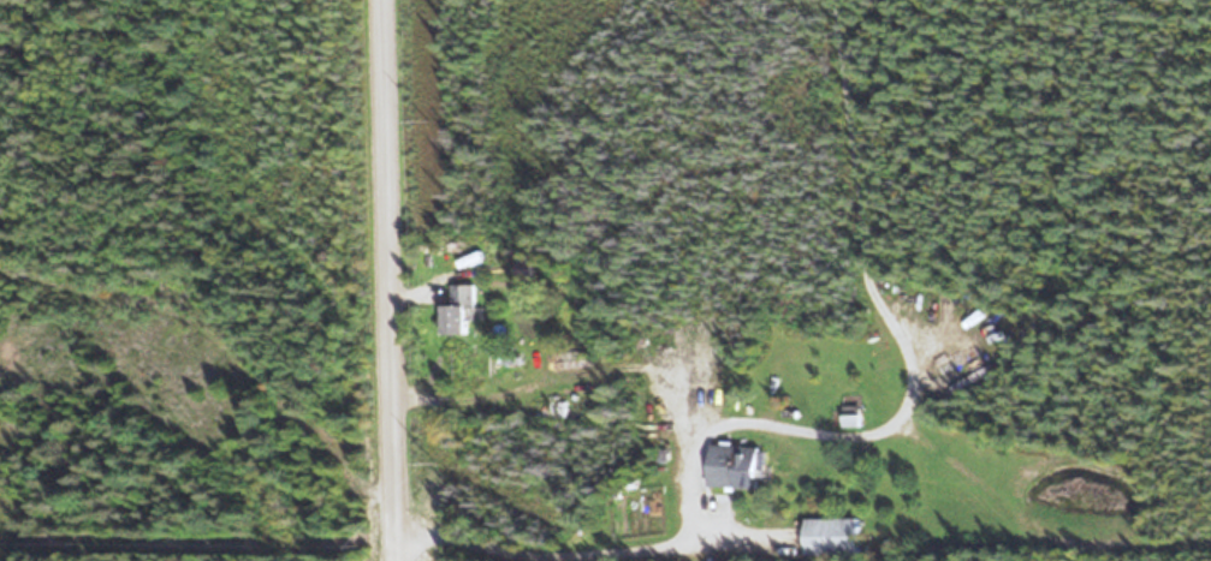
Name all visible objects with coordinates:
road: (392, 280)
building: (459, 311)
building: (736, 469)
building: (833, 538)

